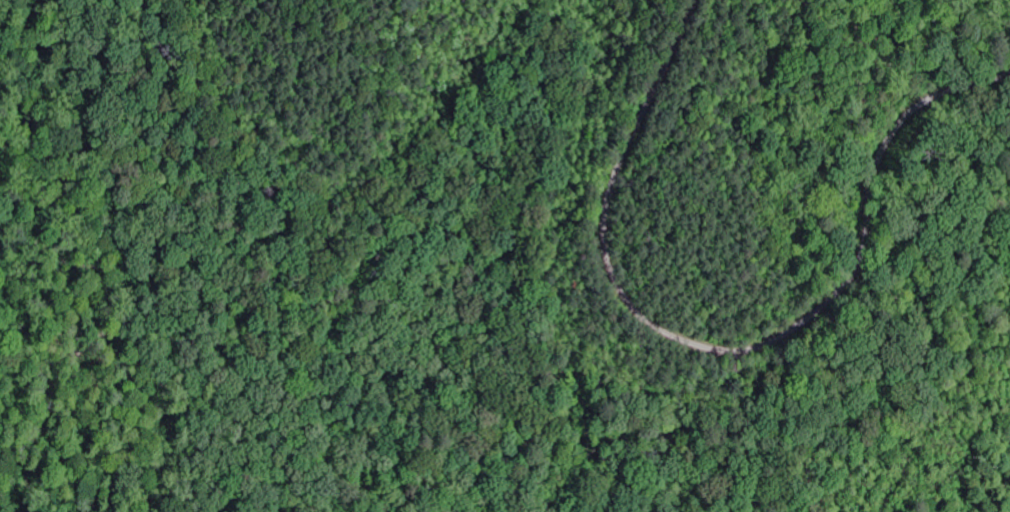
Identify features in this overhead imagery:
road: (726, 349)
road: (750, 426)

